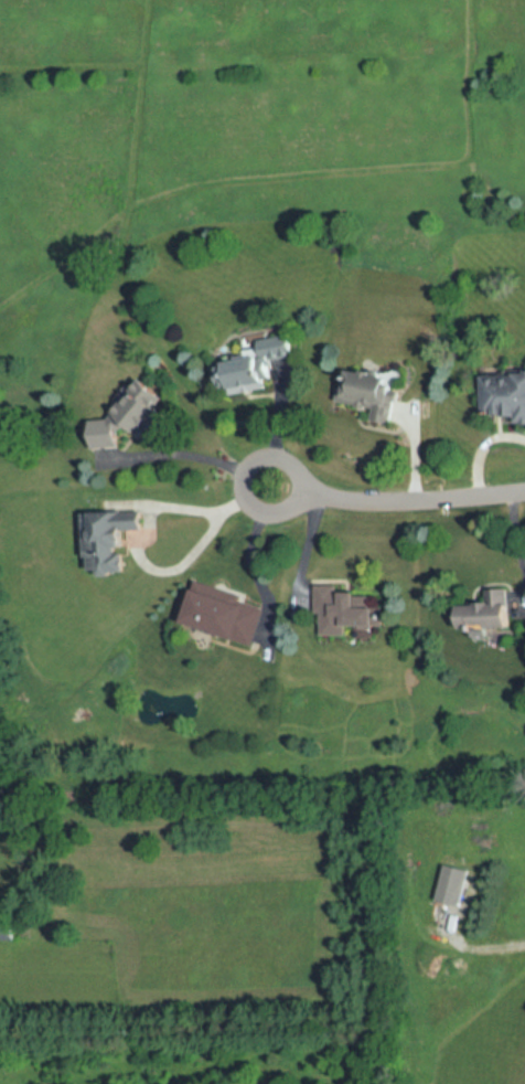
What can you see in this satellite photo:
building: (260, 361)
building: (376, 393)
building: (506, 393)
building: (133, 415)
road: (278, 427)
road: (482, 448)
road: (194, 454)
road: (398, 497)
road: (196, 510)
building: (108, 542)
road: (248, 545)
building: (344, 612)
building: (489, 612)
building: (226, 615)
building: (453, 885)
building: (9, 931)

